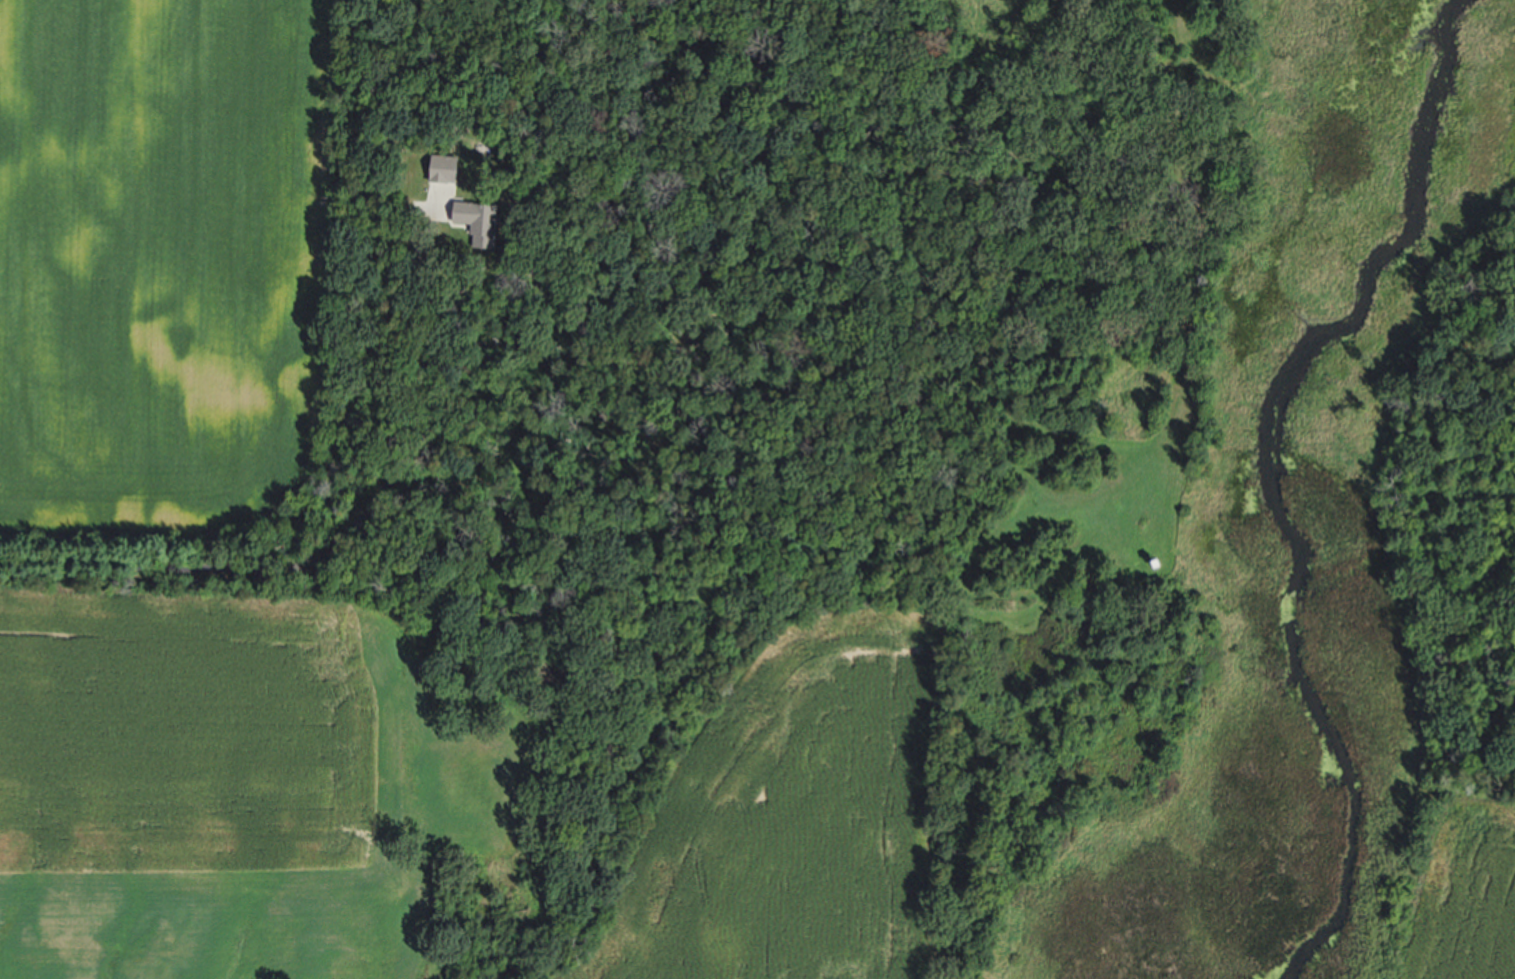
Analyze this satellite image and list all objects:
building: (446, 168)
building: (482, 222)
road: (348, 536)

